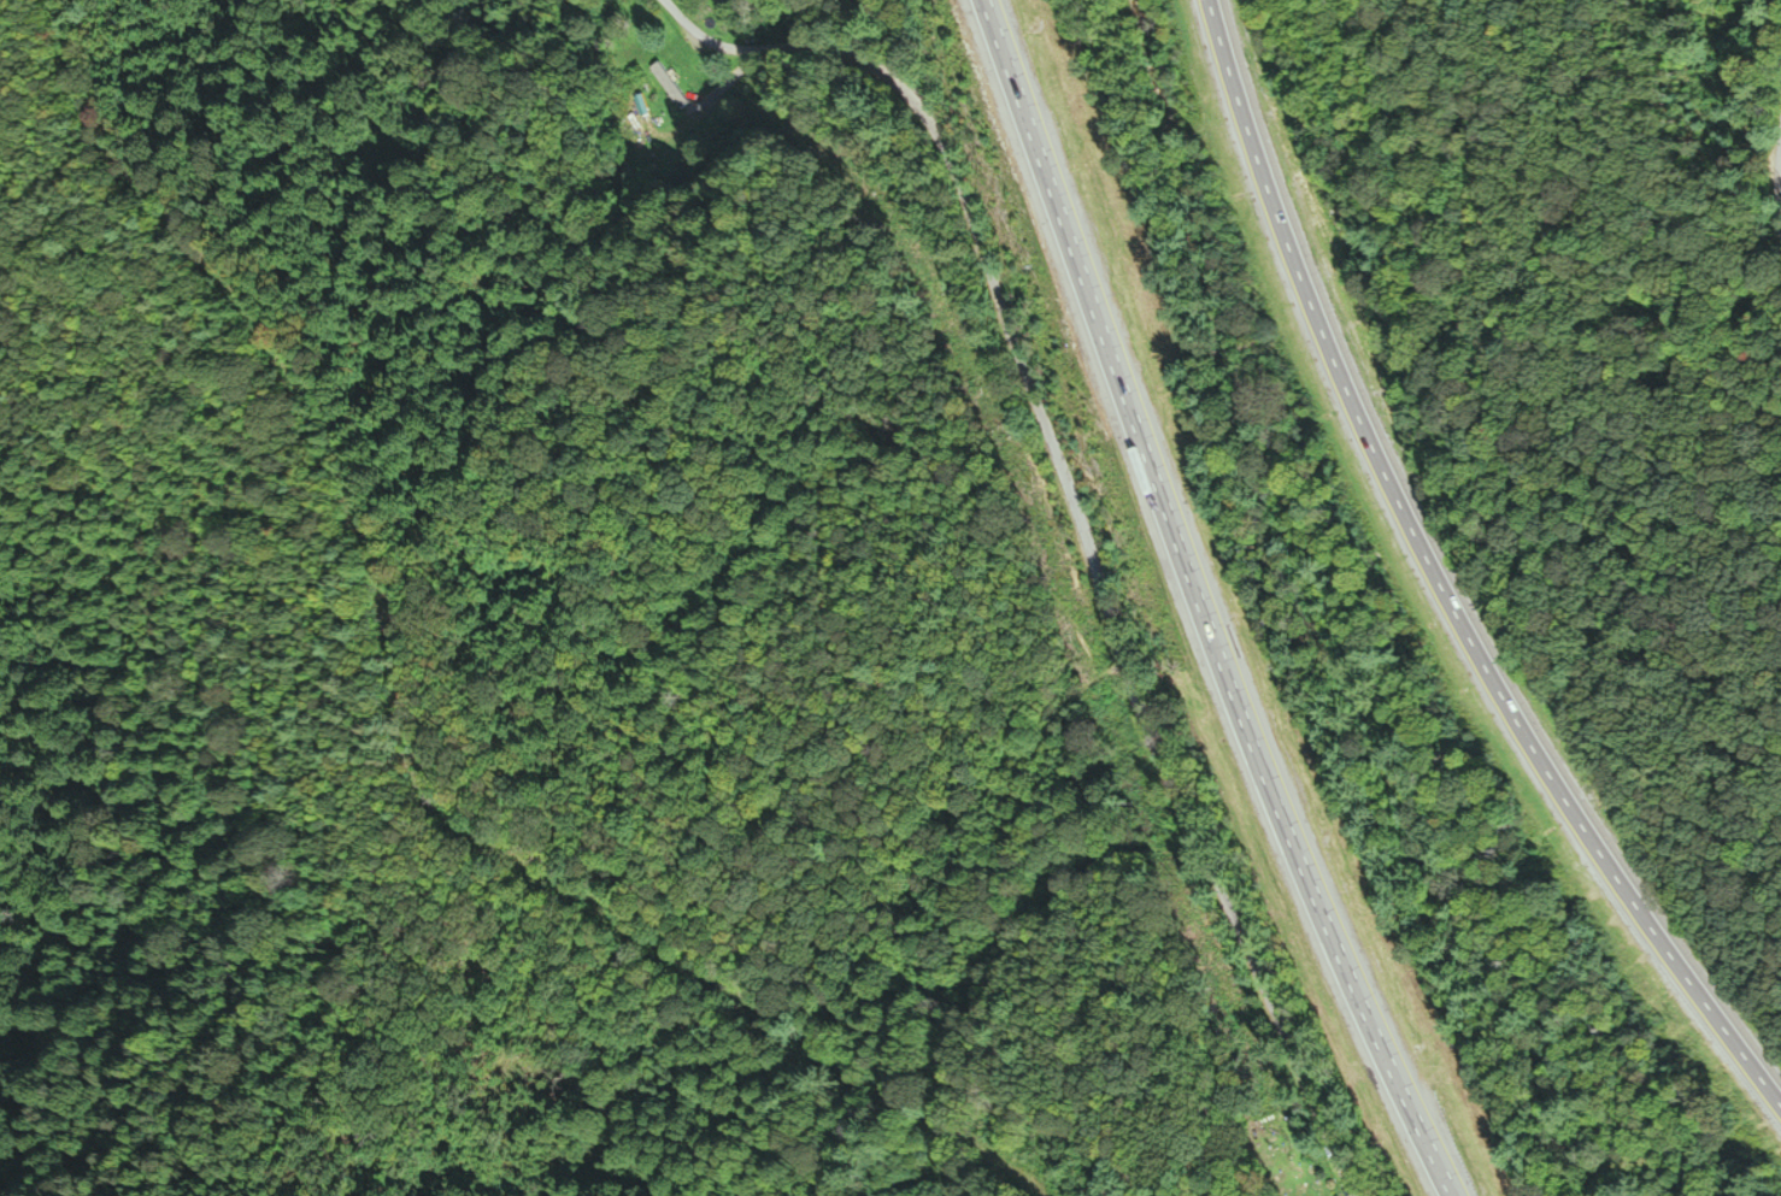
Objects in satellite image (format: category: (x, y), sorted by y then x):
road: (1780, 220)
road: (1081, 512)
road: (1436, 581)
road: (1199, 605)
river: (1318, 615)

